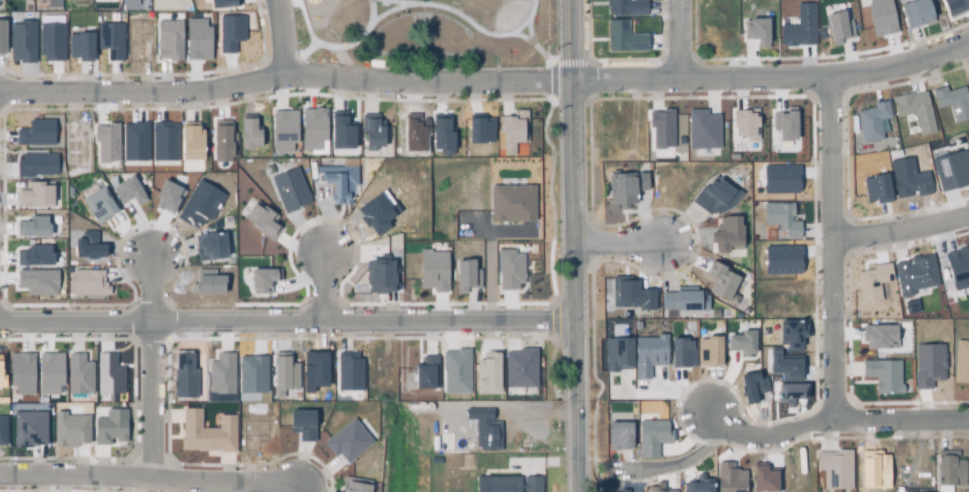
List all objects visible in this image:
building: (99, 0)
building: (224, 2)
road: (411, 4)
building: (955, 4)
building: (131, 5)
road: (351, 6)
building: (628, 6)
building: (916, 13)
road: (322, 16)
building: (880, 17)
building: (838, 26)
road: (482, 27)
road: (536, 27)
building: (798, 27)
building: (756, 31)
building: (230, 32)
park: (431, 33)
road: (285, 34)
road: (316, 36)
road: (683, 36)
building: (1, 37)
building: (624, 37)
building: (197, 39)
building: (110, 40)
building: (168, 40)
building: (22, 42)
building: (50, 42)
building: (79, 47)
road: (546, 47)
road: (485, 76)
building: (968, 82)
building: (953, 102)
building: (913, 110)
building: (870, 121)
building: (784, 123)
building: (744, 126)
building: (663, 127)
building: (314, 128)
building: (515, 128)
building: (479, 129)
building: (342, 130)
building: (700, 130)
building: (283, 131)
building: (248, 132)
building: (414, 132)
building: (36, 133)
building: (371, 133)
building: (440, 136)
building: (108, 141)
building: (164, 141)
building: (134, 142)
building: (192, 142)
building: (222, 142)
building: (75, 144)
building: (968, 145)
building: (732, 156)
building: (34, 166)
building: (950, 169)
building: (779, 178)
building: (907, 178)
building: (339, 185)
building: (875, 188)
building: (621, 189)
building: (289, 190)
building: (129, 192)
building: (33, 195)
building: (714, 197)
building: (166, 198)
building: (512, 203)
building: (200, 204)
building: (98, 206)
building: (377, 213)
building: (780, 217)
building: (260, 223)
building: (34, 226)
road: (576, 227)
road: (902, 230)
building: (724, 235)
road: (621, 236)
building: (88, 246)
building: (211, 247)
road: (834, 248)
building: (424, 254)
building: (35, 255)
building: (783, 258)
building: (958, 268)
building: (508, 269)
building: (438, 271)
building: (425, 273)
building: (381, 274)
building: (464, 275)
building: (913, 275)
building: (719, 279)
building: (262, 280)
building: (36, 282)
building: (209, 282)
road: (324, 282)
building: (87, 283)
building: (870, 283)
road: (153, 285)
building: (628, 294)
building: (682, 299)
road: (289, 317)
building: (792, 334)
building: (879, 336)
building: (742, 342)
building: (708, 351)
building: (616, 353)
building: (679, 353)
building: (648, 355)
building: (961, 362)
building: (925, 365)
building: (780, 366)
building: (518, 369)
building: (1, 370)
building: (314, 370)
building: (348, 371)
building: (49, 372)
building: (284, 372)
building: (453, 372)
building: (21, 373)
building: (485, 373)
building: (79, 374)
building: (221, 374)
building: (252, 374)
building: (424, 374)
building: (108, 375)
building: (882, 376)
building: (183, 378)
building: (752, 387)
road: (663, 391)
building: (790, 391)
road: (154, 400)
road: (831, 421)
building: (302, 424)
building: (111, 426)
building: (483, 427)
building: (28, 429)
building: (69, 429)
building: (2, 430)
building: (206, 434)
building: (622, 435)
building: (651, 436)
building: (346, 441)
building: (444, 441)
road: (675, 465)
building: (834, 469)
building: (875, 471)
building: (951, 471)
road: (579, 473)
building: (762, 478)
building: (728, 479)
road: (149, 481)
building: (354, 485)
building: (493, 485)
building: (530, 485)
building: (698, 486)
building: (656, 489)
building: (623, 490)

